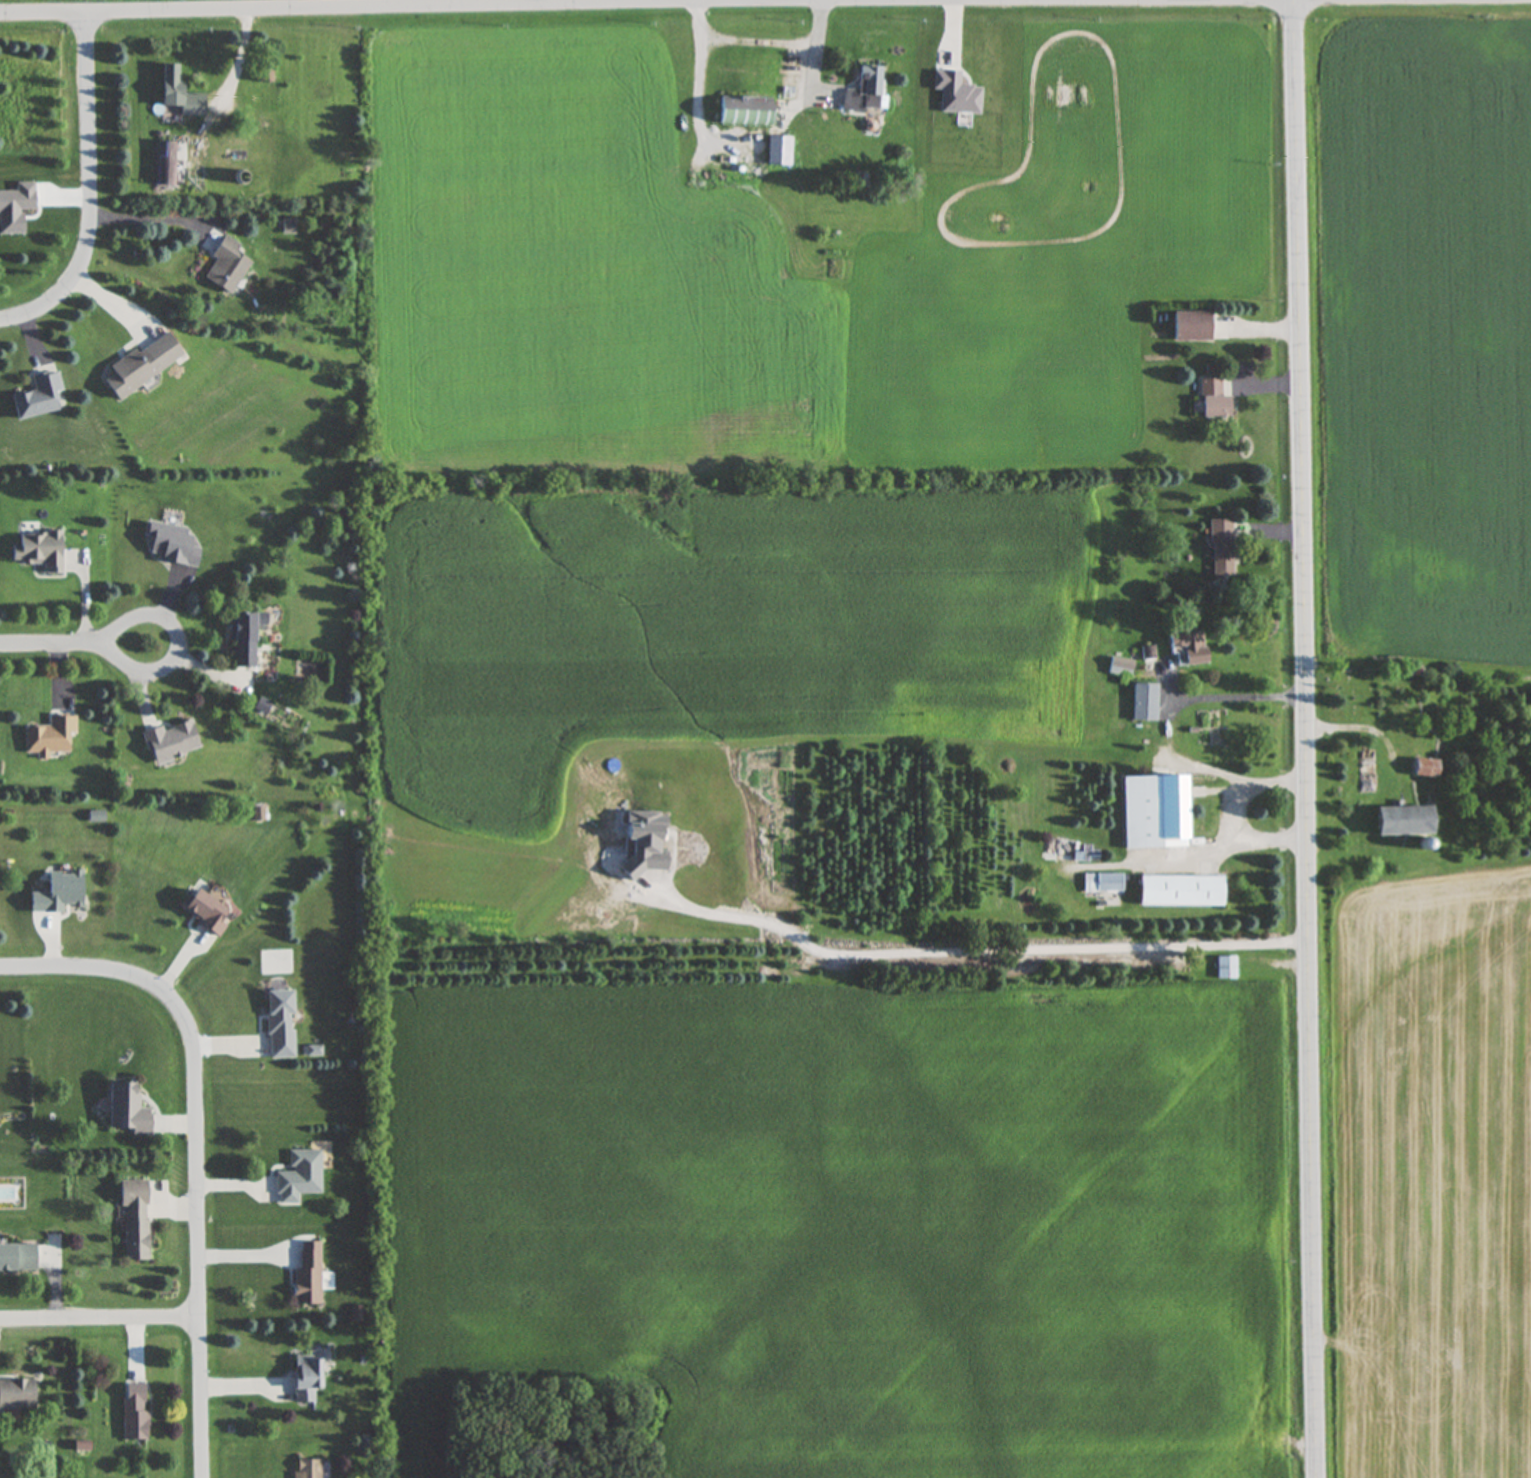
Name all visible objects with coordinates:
road: (461, 5)
road: (759, 37)
road: (796, 67)
building: (264, 82)
building: (169, 84)
building: (863, 90)
building: (743, 111)
building: (257, 151)
building: (778, 151)
building: (165, 163)
road: (83, 182)
road: (139, 217)
building: (225, 265)
building: (1191, 326)
building: (141, 364)
building: (37, 396)
building: (1212, 398)
building: (1220, 547)
building: (38, 549)
building: (244, 637)
road: (77, 640)
building: (1186, 648)
building: (1120, 667)
road: (1238, 695)
building: (1144, 701)
building: (50, 736)
road: (1303, 738)
building: (170, 741)
building: (1153, 812)
building: (1402, 821)
building: (1079, 856)
building: (1103, 883)
building: (61, 890)
building: (1180, 892)
building: (204, 912)
road: (968, 950)
building: (1226, 968)
building: (279, 1024)
building: (124, 1109)
road: (202, 1143)
building: (298, 1177)
building: (133, 1219)
building: (16, 1257)
building: (306, 1275)
road: (103, 1323)
building: (305, 1379)
building: (17, 1394)
building: (133, 1411)
building: (304, 1469)

